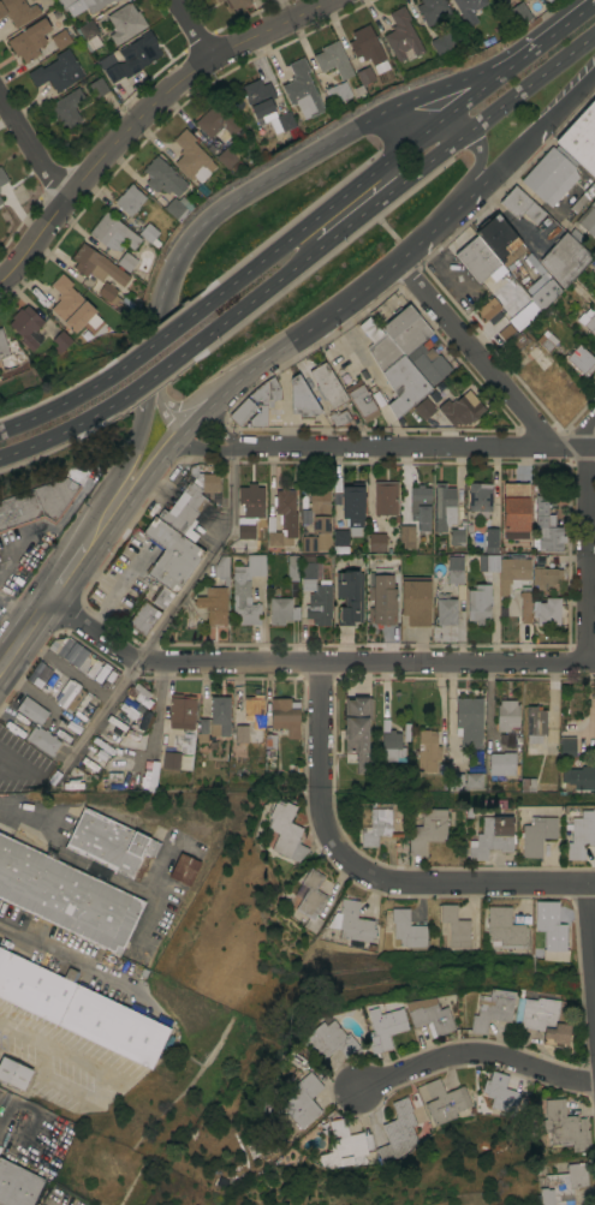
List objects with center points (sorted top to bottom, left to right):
building: (114, 0)
building: (218, 0)
building: (549, 0)
building: (66, 2)
building: (93, 4)
building: (236, 4)
building: (468, 8)
building: (432, 10)
building: (17, 11)
building: (519, 12)
building: (124, 22)
road: (190, 29)
road: (546, 34)
building: (88, 35)
building: (401, 35)
building: (60, 37)
building: (29, 40)
building: (442, 41)
building: (367, 48)
building: (133, 56)
building: (332, 60)
building: (56, 71)
building: (364, 74)
building: (97, 87)
road: (526, 87)
building: (302, 89)
building: (337, 91)
building: (357, 91)
road: (469, 94)
building: (258, 97)
building: (66, 107)
road: (143, 114)
building: (216, 121)
building: (281, 121)
road: (387, 125)
road: (540, 126)
building: (581, 138)
road: (32, 147)
building: (228, 154)
building: (190, 156)
road: (477, 168)
road: (398, 174)
building: (551, 174)
building: (162, 175)
building: (2, 177)
road: (258, 181)
road: (469, 197)
building: (129, 199)
building: (0, 201)
building: (0, 203)
building: (520, 203)
building: (578, 203)
building: (177, 207)
building: (587, 220)
building: (147, 231)
building: (112, 233)
building: (576, 234)
building: (500, 240)
building: (477, 258)
building: (564, 258)
road: (267, 260)
building: (126, 261)
building: (96, 264)
building: (594, 272)
road: (266, 287)
building: (543, 293)
building: (109, 294)
building: (70, 304)
building: (488, 308)
building: (495, 321)
building: (587, 321)
building: (26, 326)
building: (60, 340)
building: (546, 340)
building: (514, 342)
road: (141, 354)
building: (397, 354)
road: (478, 354)
building: (6, 356)
building: (581, 359)
building: (427, 362)
road: (142, 382)
building: (327, 384)
building: (270, 392)
building: (301, 398)
building: (361, 399)
building: (263, 401)
building: (423, 407)
building: (459, 410)
building: (240, 411)
road: (40, 413)
building: (338, 417)
road: (197, 422)
road: (161, 426)
road: (220, 431)
road: (578, 434)
road: (48, 436)
road: (385, 448)
road: (114, 477)
building: (209, 482)
building: (478, 495)
building: (385, 497)
building: (41, 499)
building: (420, 506)
building: (444, 506)
building: (183, 507)
building: (352, 507)
building: (248, 508)
building: (514, 509)
building: (282, 518)
building: (317, 518)
building: (546, 526)
building: (406, 536)
building: (456, 536)
building: (490, 537)
building: (339, 539)
building: (376, 542)
road: (584, 548)
road: (12, 550)
building: (169, 554)
building: (255, 565)
road: (52, 566)
building: (291, 567)
building: (221, 568)
building: (508, 571)
building: (308, 574)
building: (454, 575)
building: (545, 575)
road: (115, 590)
building: (160, 596)
building: (349, 596)
building: (242, 599)
building: (381, 599)
building: (415, 599)
building: (477, 602)
building: (213, 603)
building: (319, 604)
building: (524, 604)
road: (7, 609)
building: (445, 609)
building: (281, 610)
building: (547, 612)
road: (166, 614)
road: (16, 616)
building: (142, 618)
building: (82, 661)
road: (303, 663)
building: (36, 674)
building: (69, 694)
building: (138, 694)
building: (180, 710)
road: (155, 714)
building: (506, 714)
building: (219, 715)
building: (285, 715)
building: (249, 716)
building: (468, 721)
building: (594, 721)
building: (534, 723)
building: (37, 726)
building: (202, 730)
building: (357, 730)
building: (269, 745)
building: (391, 746)
building: (566, 746)
building: (427, 750)
building: (169, 759)
building: (501, 763)
building: (578, 776)
building: (464, 780)
building: (526, 785)
building: (376, 824)
building: (427, 829)
building: (284, 830)
building: (536, 834)
building: (581, 834)
building: (492, 836)
building: (109, 843)
building: (184, 869)
road: (96, 870)
road: (367, 872)
building: (66, 895)
building: (310, 900)
building: (351, 921)
building: (454, 925)
road: (591, 926)
building: (502, 927)
building: (406, 929)
building: (551, 931)
road: (70, 960)
building: (35, 986)
building: (490, 1009)
building: (428, 1015)
building: (541, 1018)
building: (113, 1025)
building: (382, 1027)
road: (20, 1036)
building: (327, 1040)
road: (476, 1056)
building: (13, 1072)
building: (499, 1092)
road: (99, 1097)
building: (301, 1099)
building: (444, 1102)
building: (564, 1127)
building: (398, 1131)
building: (344, 1145)
building: (17, 1183)
building: (561, 1185)

